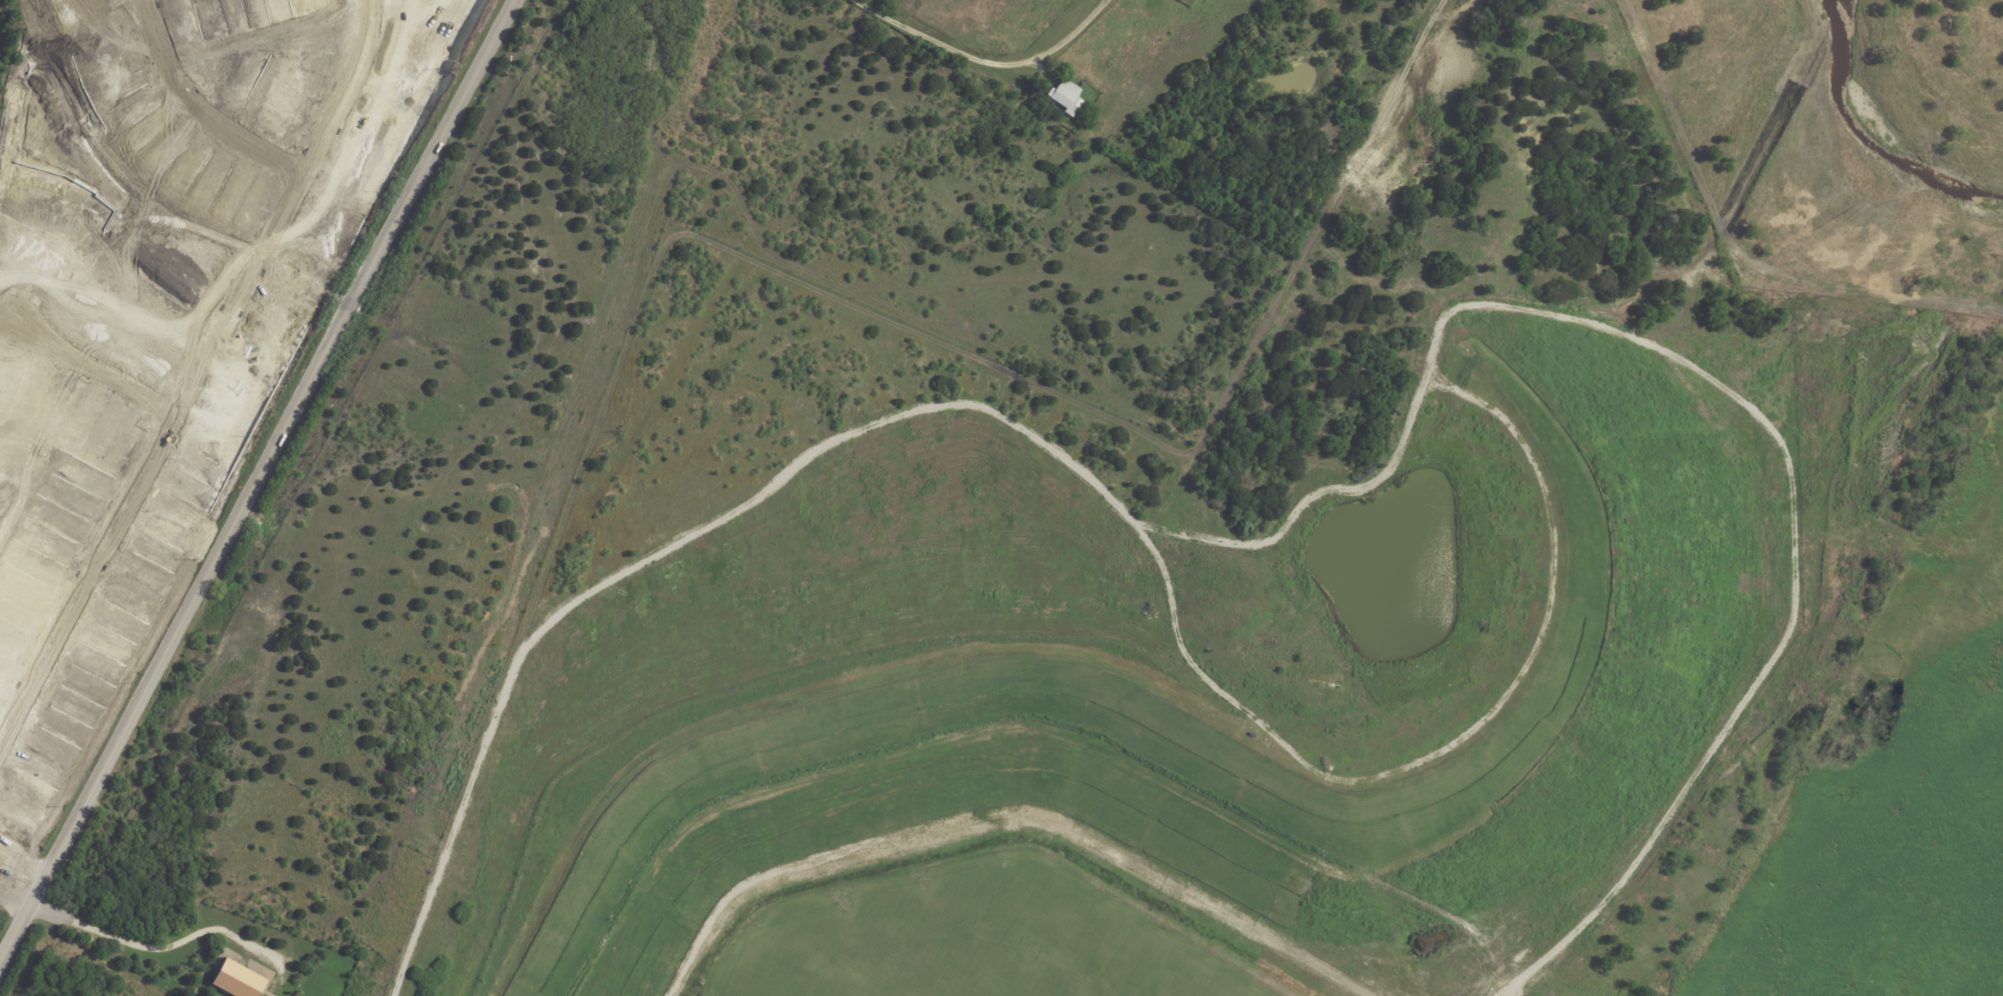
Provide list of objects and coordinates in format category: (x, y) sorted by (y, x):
road: (985, 61)
building: (1065, 96)
road: (205, 104)
road: (97, 362)
road: (195, 374)
road: (258, 482)
road: (25, 853)
road: (151, 947)
building: (239, 980)

